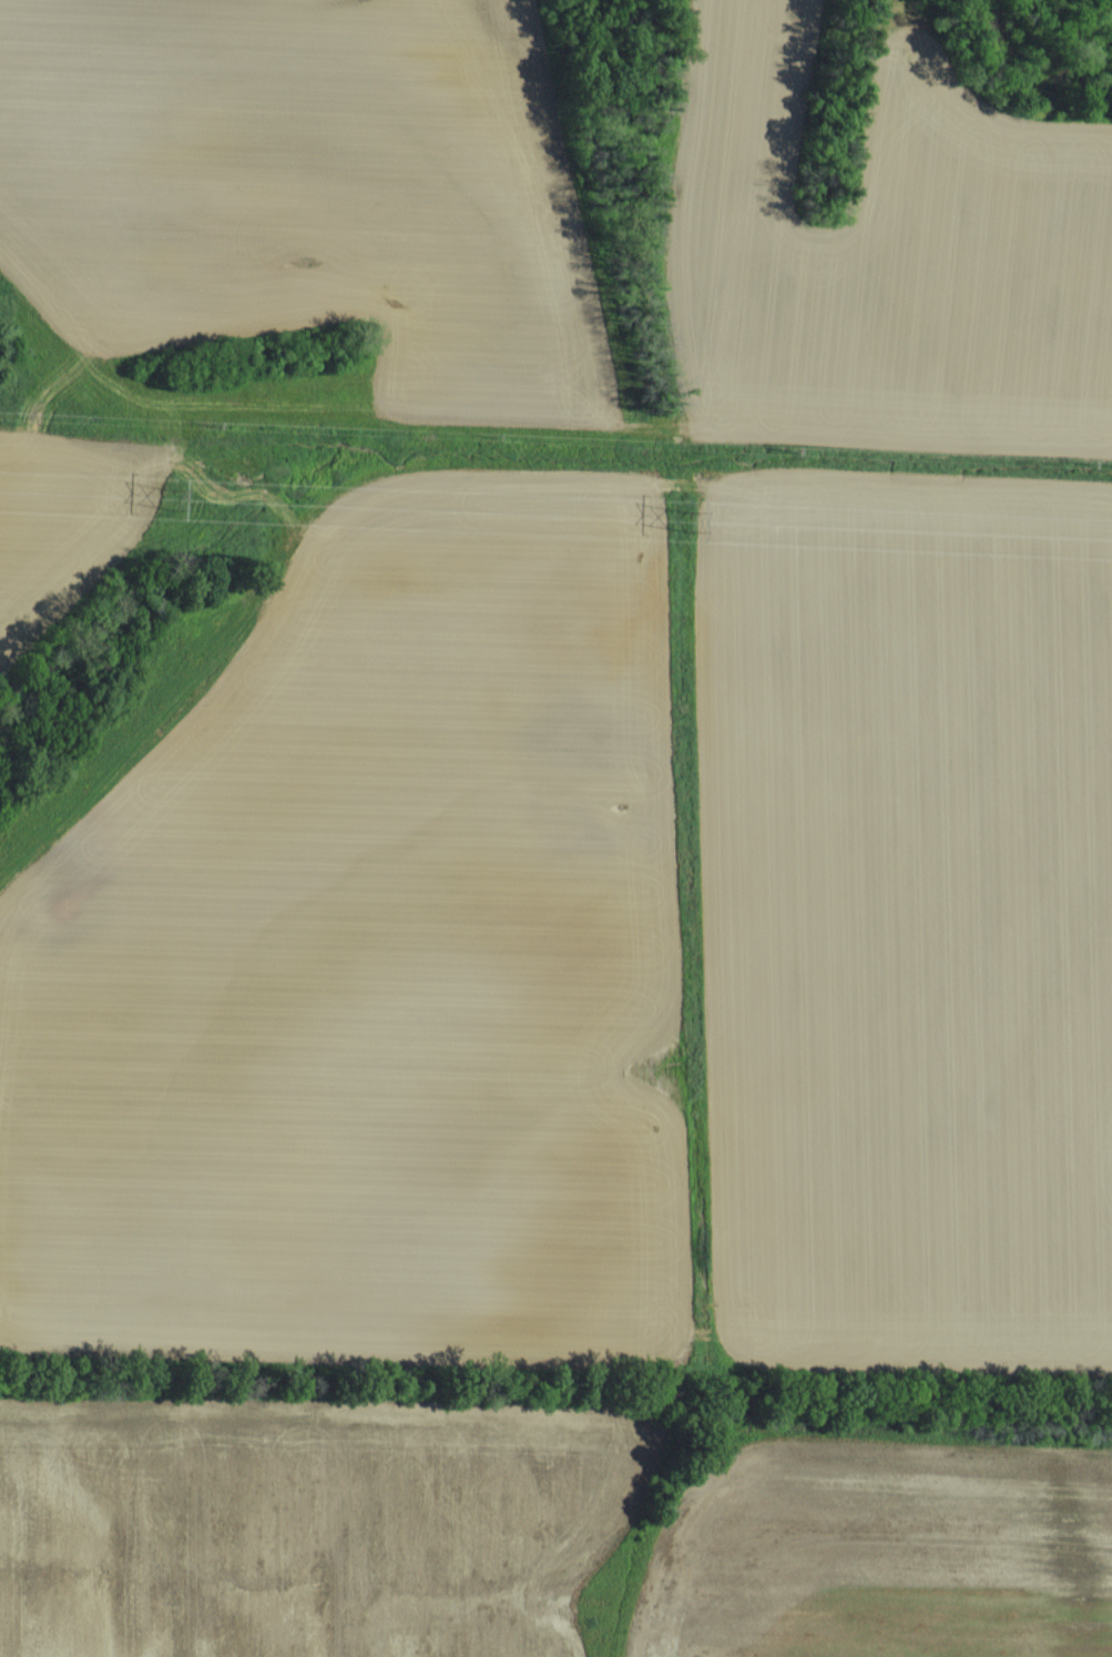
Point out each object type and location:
power tower: (175, 498)
power tower: (686, 519)

